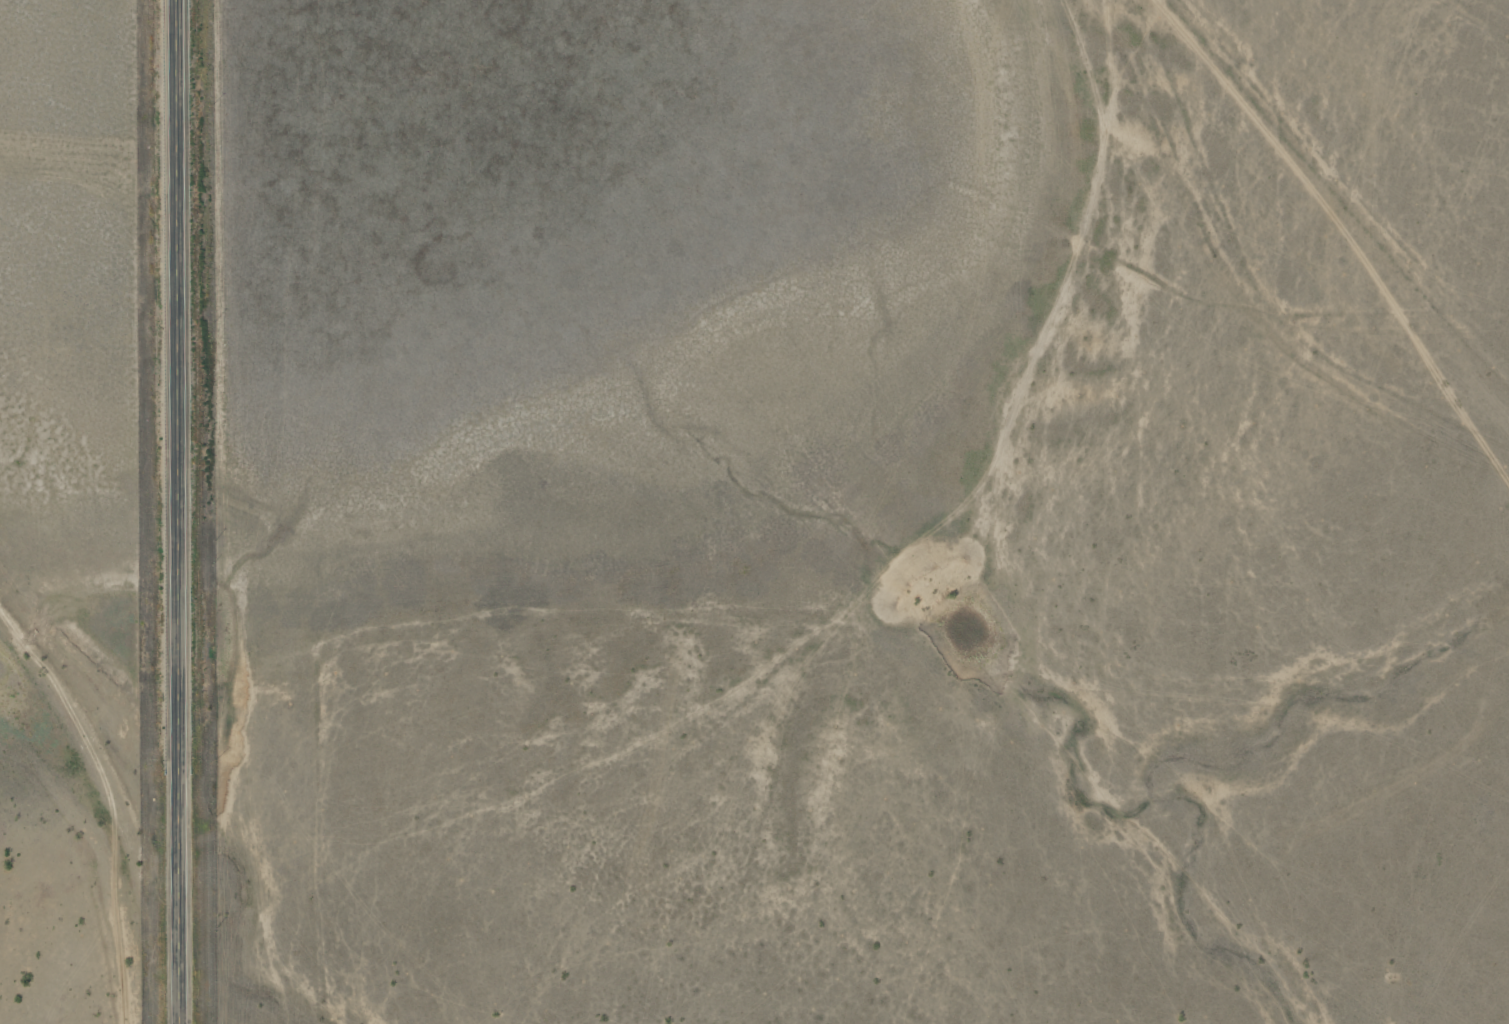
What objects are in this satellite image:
road: (176, 511)
road: (68, 687)

